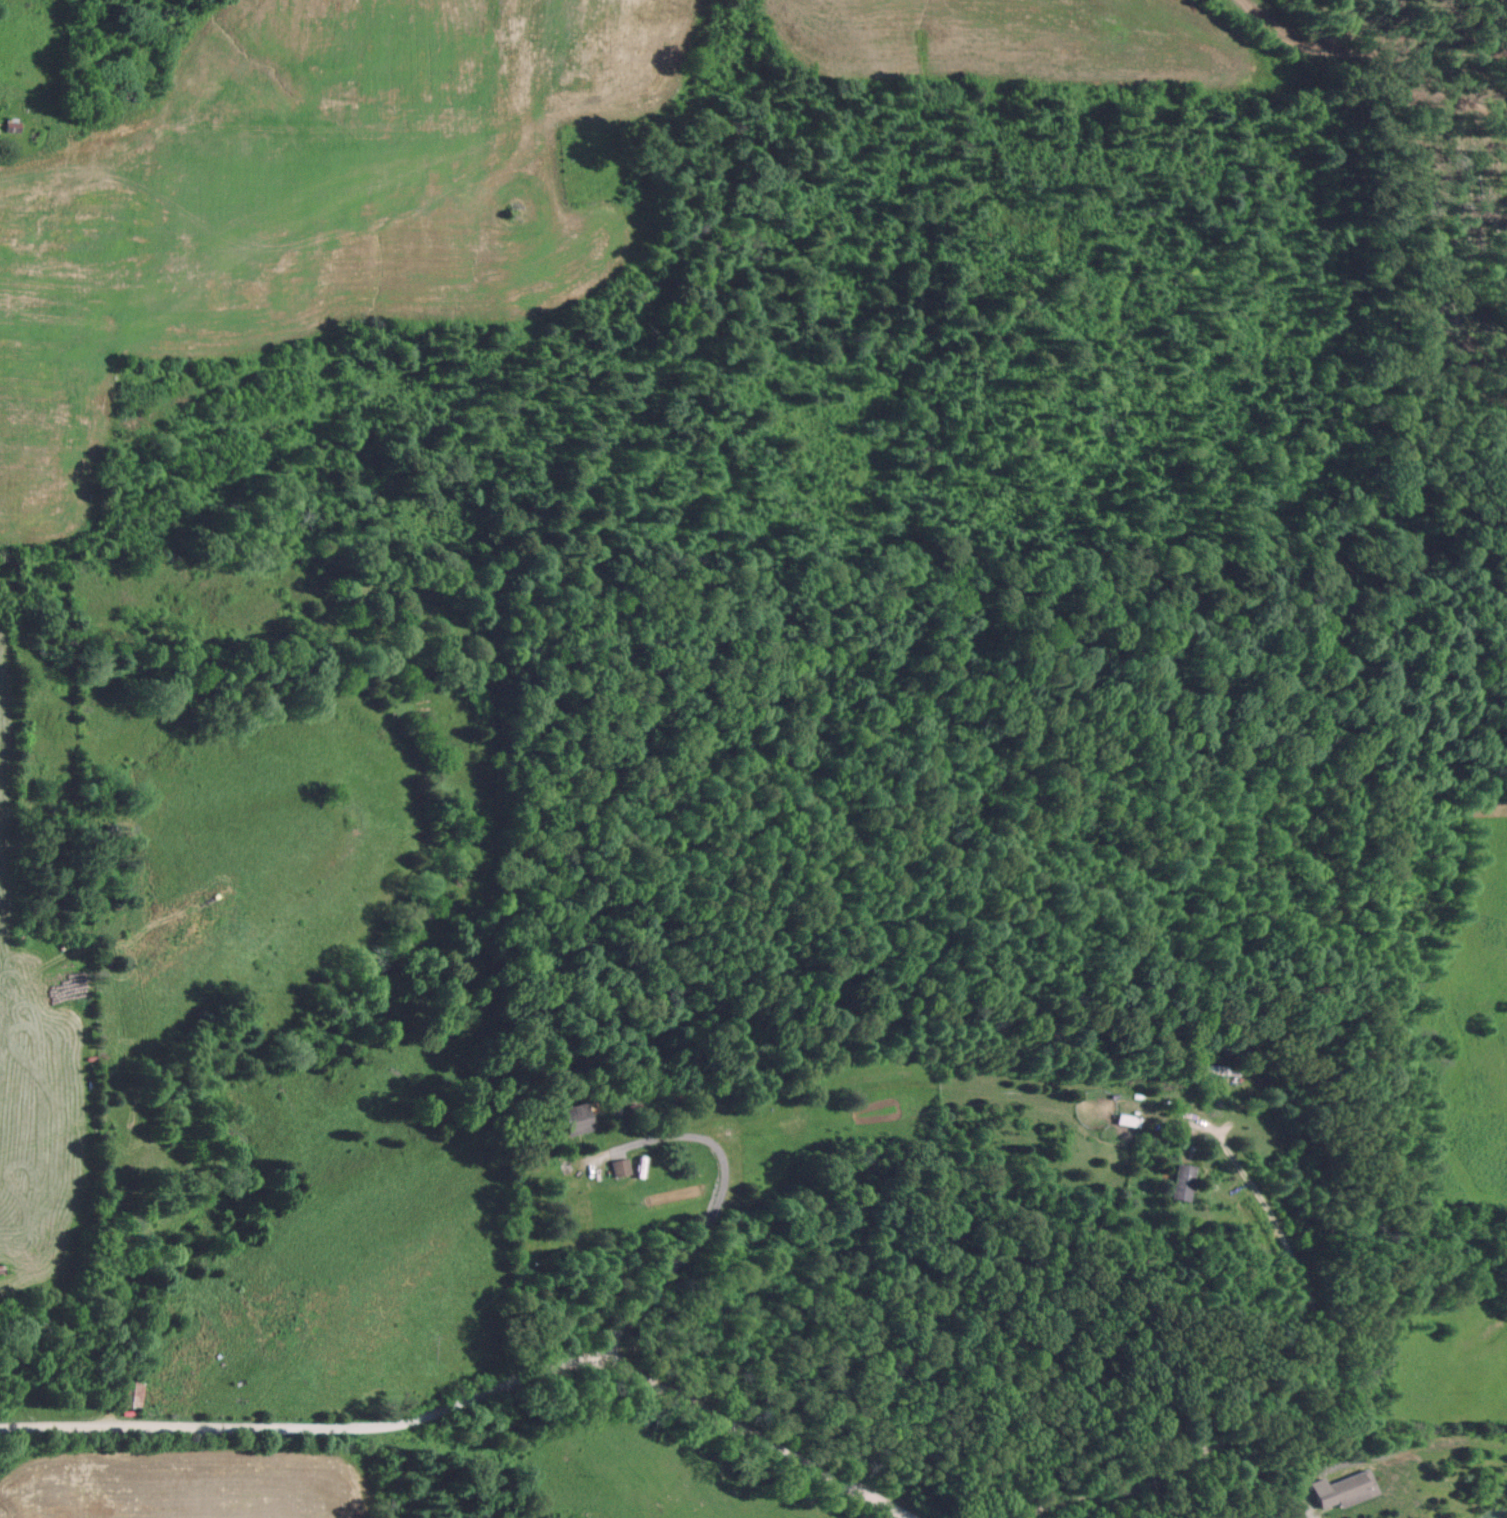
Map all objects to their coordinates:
building: (1218, 1068)
building: (574, 1118)
building: (1126, 1120)
building: (618, 1166)
building: (1181, 1181)
road: (709, 1224)
road: (1313, 1321)
building: (127, 1394)
road: (477, 1394)
building: (1344, 1489)

